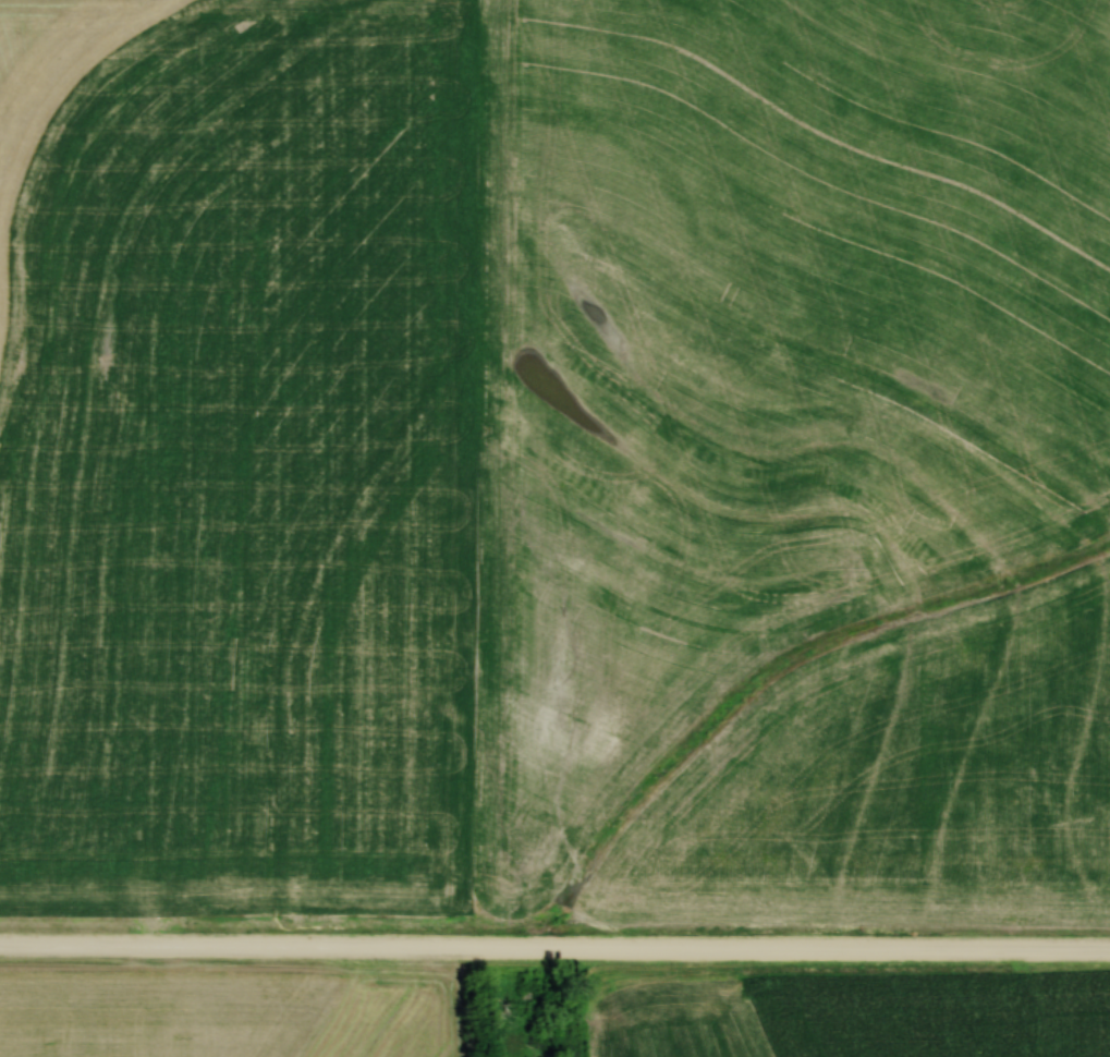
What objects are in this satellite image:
road: (554, 950)

